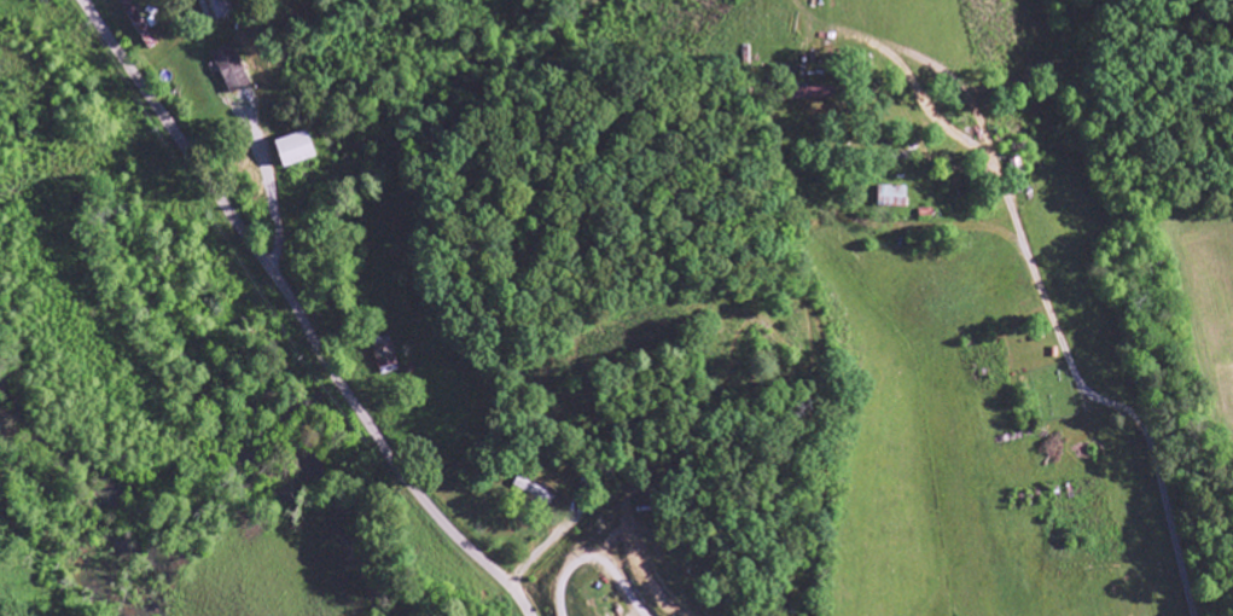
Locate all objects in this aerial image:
building: (231, 68)
building: (296, 149)
building: (894, 192)
road: (297, 314)
building: (384, 359)

